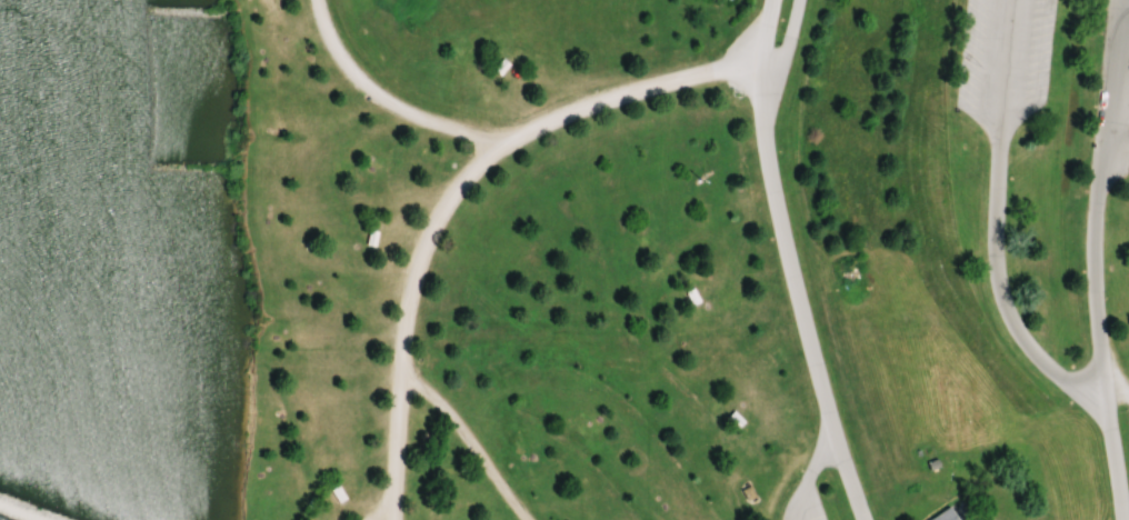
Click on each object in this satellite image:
road: (786, 42)
parking lot: (1002, 60)
parking lot: (1111, 96)
road: (453, 194)
road: (992, 226)
park: (564, 260)
road: (1090, 260)
road: (786, 264)
road: (1113, 390)
road: (466, 441)
road: (845, 473)
parking lot: (802, 503)
building: (943, 518)

